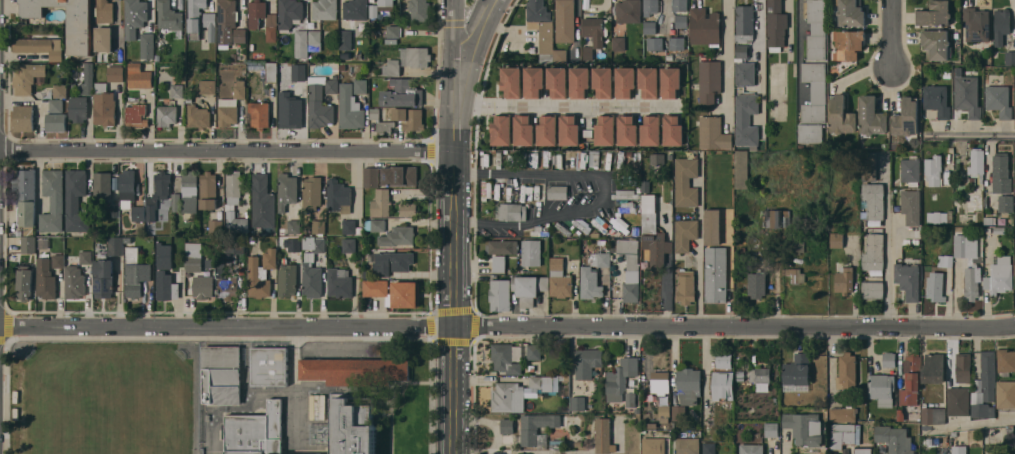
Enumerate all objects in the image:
building: (386, 5)
building: (680, 5)
building: (651, 7)
building: (325, 9)
building: (356, 9)
building: (419, 9)
building: (104, 11)
building: (373, 11)
building: (629, 11)
building: (851, 12)
building: (290, 13)
building: (935, 13)
building: (169, 15)
building: (135, 17)
building: (195, 17)
building: (681, 20)
building: (227, 21)
building: (565, 21)
building: (271, 22)
building: (745, 22)
building: (210, 25)
building: (776, 25)
building: (976, 25)
building: (1002, 25)
building: (704, 26)
building: (541, 27)
building: (650, 27)
building: (595, 29)
building: (817, 29)
building: (393, 30)
road: (892, 33)
building: (374, 34)
building: (240, 35)
road: (473, 35)
building: (79, 36)
building: (104, 38)
building: (345, 39)
building: (315, 40)
building: (301, 43)
building: (619, 43)
building: (655, 43)
building: (677, 43)
building: (936, 43)
road: (798, 44)
building: (849, 44)
building: (147, 45)
building: (40, 46)
building: (741, 52)
building: (588, 54)
building: (560, 55)
building: (415, 56)
building: (1010, 57)
road: (729, 61)
building: (392, 67)
road: (762, 67)
building: (271, 71)
building: (116, 72)
building: (297, 72)
building: (745, 73)
building: (139, 76)
building: (29, 77)
building: (88, 79)
building: (776, 79)
building: (299, 80)
building: (511, 81)
building: (709, 81)
building: (534, 82)
building: (557, 82)
building: (580, 82)
building: (603, 82)
building: (671, 82)
building: (625, 83)
building: (648, 83)
building: (177, 86)
building: (208, 86)
building: (332, 86)
building: (361, 86)
building: (61, 91)
building: (815, 92)
building: (402, 93)
building: (967, 95)
building: (937, 100)
building: (999, 100)
building: (232, 104)
building: (56, 105)
building: (104, 105)
road: (566, 106)
building: (319, 107)
building: (78, 108)
building: (350, 108)
building: (259, 114)
building: (291, 114)
building: (136, 115)
building: (167, 115)
building: (841, 115)
building: (198, 116)
building: (872, 116)
building: (409, 117)
building: (906, 117)
building: (24, 118)
building: (746, 119)
building: (381, 121)
building: (56, 122)
building: (502, 130)
building: (524, 131)
building: (569, 131)
building: (605, 131)
building: (627, 131)
building: (673, 131)
building: (548, 132)
building: (651, 132)
building: (810, 132)
building: (713, 133)
road: (970, 136)
road: (227, 151)
building: (657, 158)
building: (977, 161)
building: (868, 166)
building: (741, 169)
building: (933, 169)
building: (911, 170)
road: (573, 173)
building: (1001, 173)
building: (400, 175)
building: (371, 177)
building: (685, 182)
building: (127, 184)
building: (234, 185)
building: (104, 187)
building: (287, 190)
building: (208, 191)
building: (499, 191)
building: (558, 191)
building: (158, 193)
building: (312, 193)
building: (190, 194)
building: (25, 196)
building: (339, 196)
building: (974, 199)
building: (53, 200)
building: (76, 201)
building: (263, 201)
building: (176, 202)
building: (874, 202)
building: (381, 203)
building: (1006, 203)
building: (911, 206)
building: (408, 209)
building: (115, 211)
building: (511, 211)
building: (138, 213)
building: (937, 216)
building: (777, 218)
building: (236, 222)
road: (500, 222)
building: (375, 224)
building: (294, 226)
building: (318, 226)
building: (712, 226)
building: (215, 227)
building: (351, 227)
road: (456, 227)
building: (653, 233)
building: (685, 233)
building: (398, 236)
road: (700, 240)
building: (836, 240)
road: (888, 240)
building: (314, 243)
building: (28, 244)
building: (235, 244)
building: (115, 245)
building: (294, 245)
building: (349, 245)
building: (965, 245)
building: (503, 246)
building: (531, 252)
building: (873, 254)
building: (193, 255)
building: (86, 257)
building: (600, 259)
building: (58, 260)
building: (945, 260)
building: (392, 262)
building: (499, 263)
building: (220, 266)
building: (630, 266)
building: (242, 271)
building: (135, 272)
building: (261, 273)
building: (166, 274)
building: (716, 274)
building: (795, 274)
building: (1000, 275)
building: (46, 278)
building: (103, 278)
building: (559, 278)
building: (287, 279)
building: (312, 279)
building: (844, 279)
building: (908, 279)
building: (972, 281)
building: (74, 282)
building: (339, 282)
building: (590, 283)
building: (757, 283)
building: (25, 284)
building: (203, 286)
building: (686, 286)
building: (935, 286)
building: (227, 287)
building: (529, 288)
road: (666, 289)
building: (872, 289)
building: (394, 292)
building: (500, 294)
road: (507, 324)
building: (328, 349)
building: (359, 350)
building: (534, 351)
building: (505, 358)
building: (724, 359)
building: (889, 359)
building: (1006, 360)
building: (587, 361)
building: (270, 366)
building: (963, 367)
building: (933, 368)
building: (797, 369)
building: (354, 370)
building: (846, 370)
building: (222, 374)
building: (621, 374)
building: (760, 374)
building: (988, 374)
building: (660, 381)
building: (911, 381)
building: (538, 382)
building: (723, 384)
building: (689, 385)
building: (881, 388)
building: (1006, 394)
building: (508, 397)
building: (631, 400)
building: (958, 400)
building: (578, 403)
building: (980, 409)
building: (678, 412)
building: (664, 413)
building: (842, 414)
building: (934, 415)
building: (354, 425)
building: (507, 425)
road: (970, 426)
building: (538, 428)
building: (804, 428)
building: (771, 429)
building: (256, 431)
building: (842, 434)
building: (604, 435)
building: (895, 439)
building: (557, 444)
building: (653, 445)
building: (688, 445)
building: (709, 448)
building: (751, 448)
building: (959, 449)
building: (863, 450)

